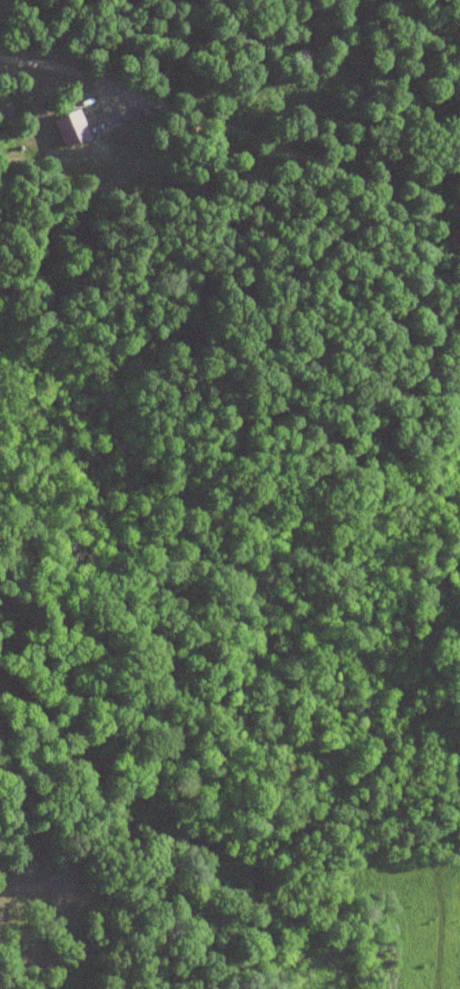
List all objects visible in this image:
building: (69, 129)

